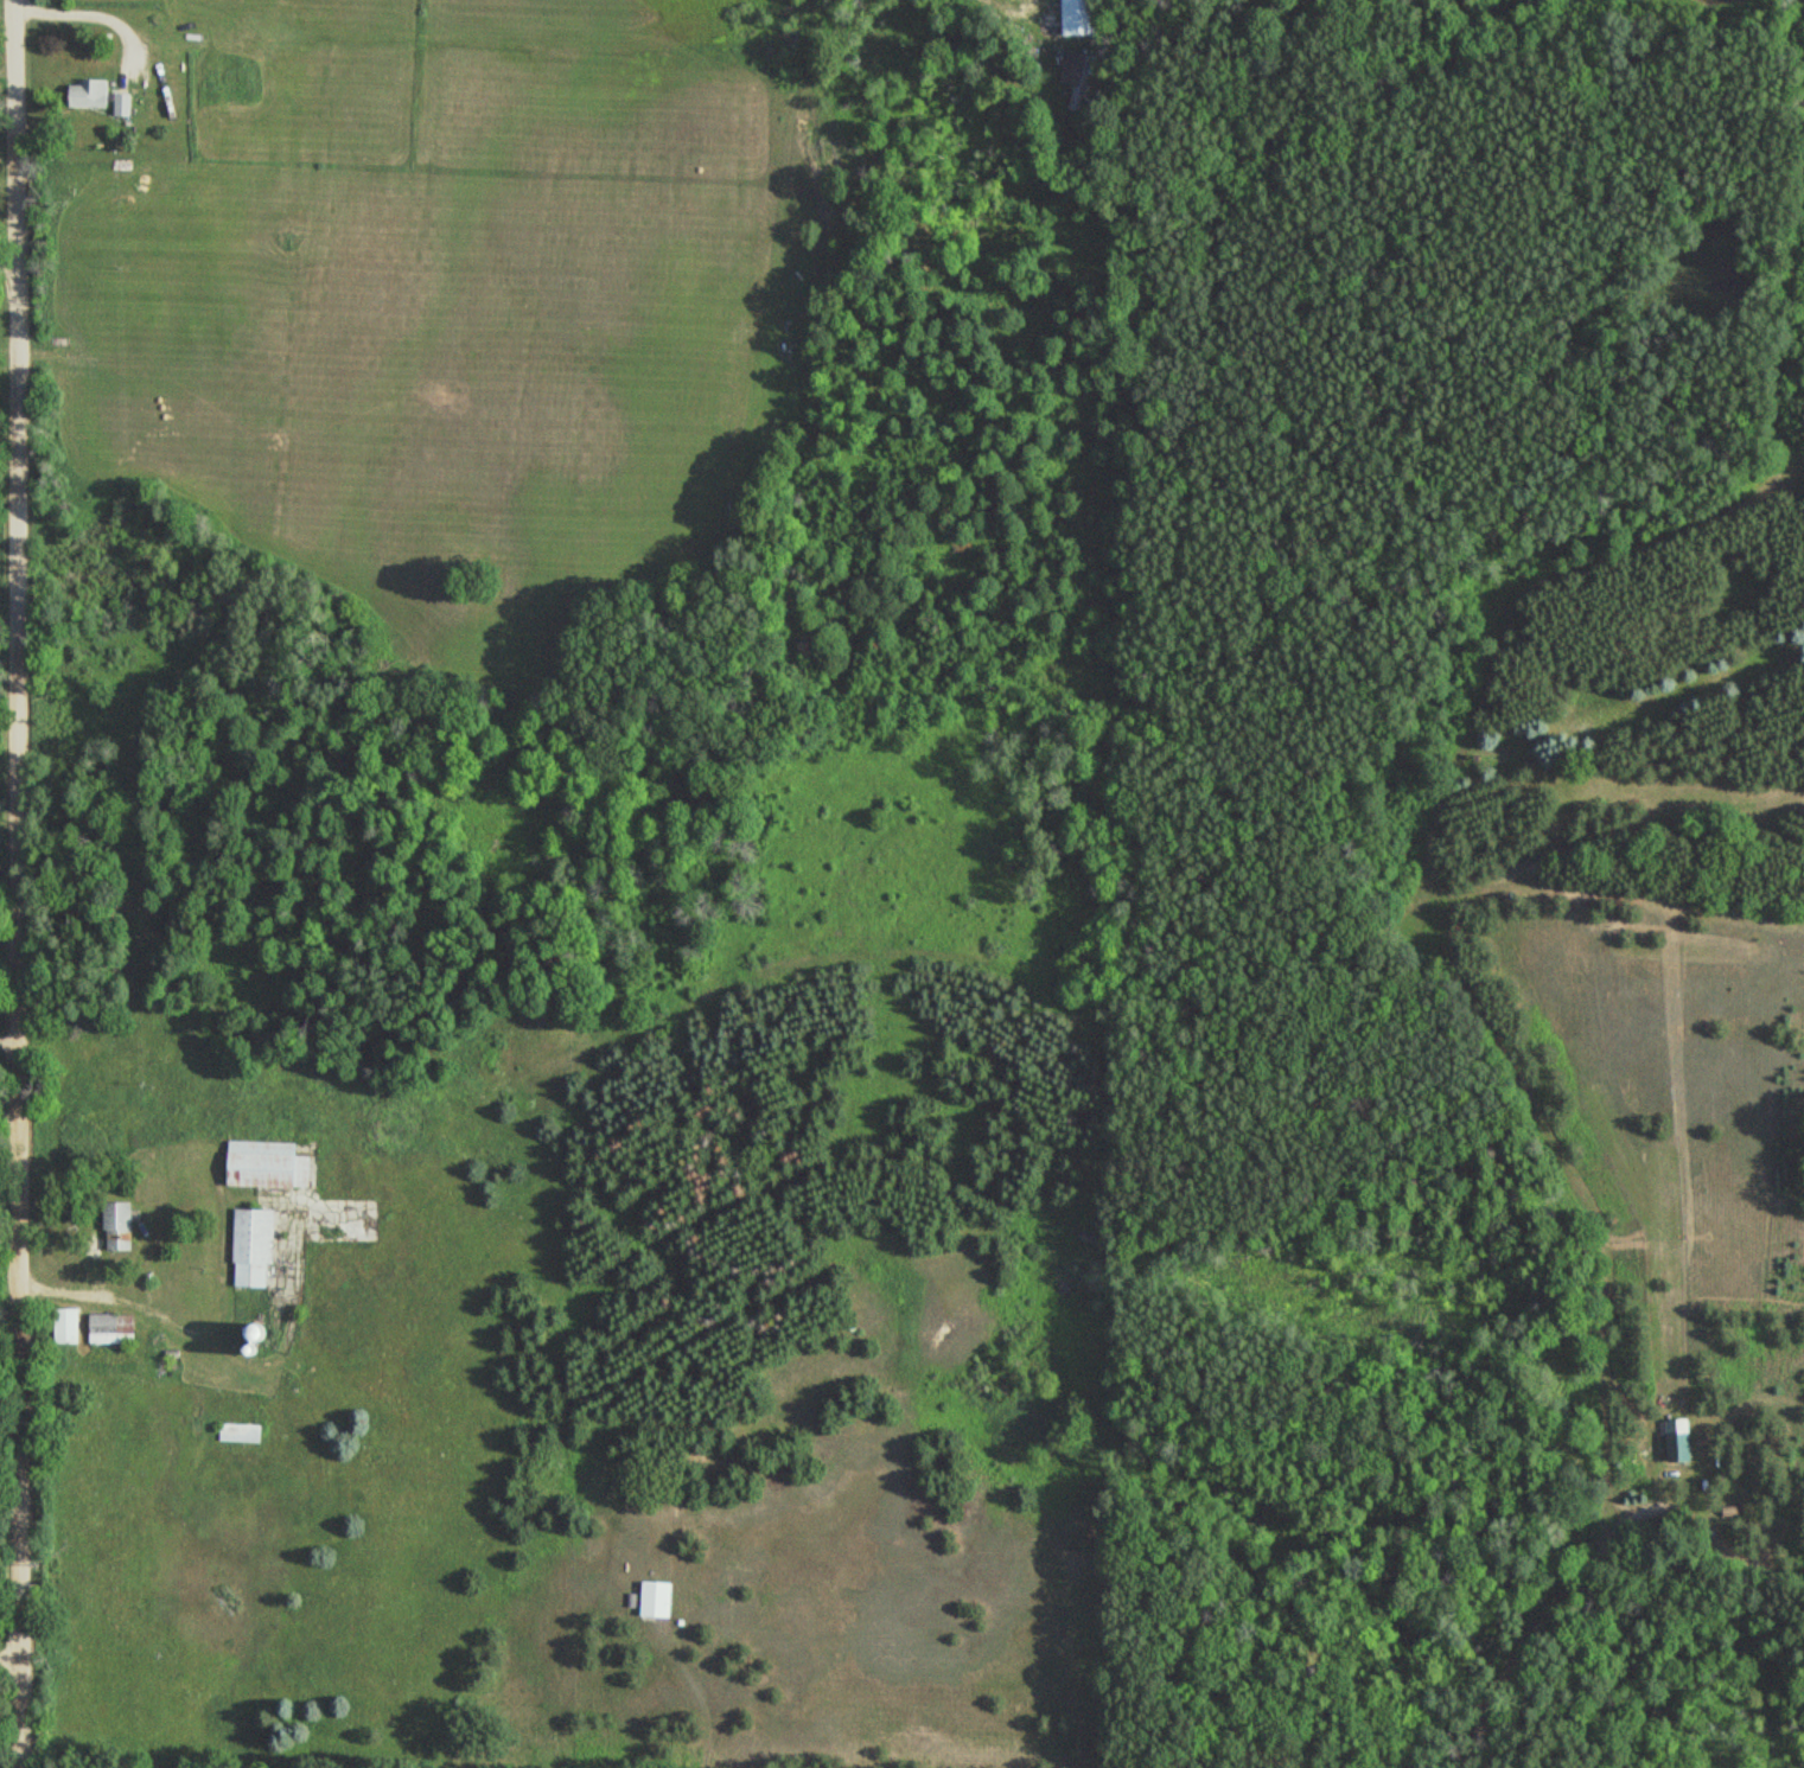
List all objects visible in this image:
building: (1078, 18)
building: (1073, 77)
building: (93, 94)
road: (19, 883)
road: (9, 1046)
building: (270, 1166)
building: (120, 1224)
building: (255, 1247)
building: (71, 1326)
building: (114, 1328)
building: (1681, 1441)
building: (659, 1600)
road: (1205, 1604)

